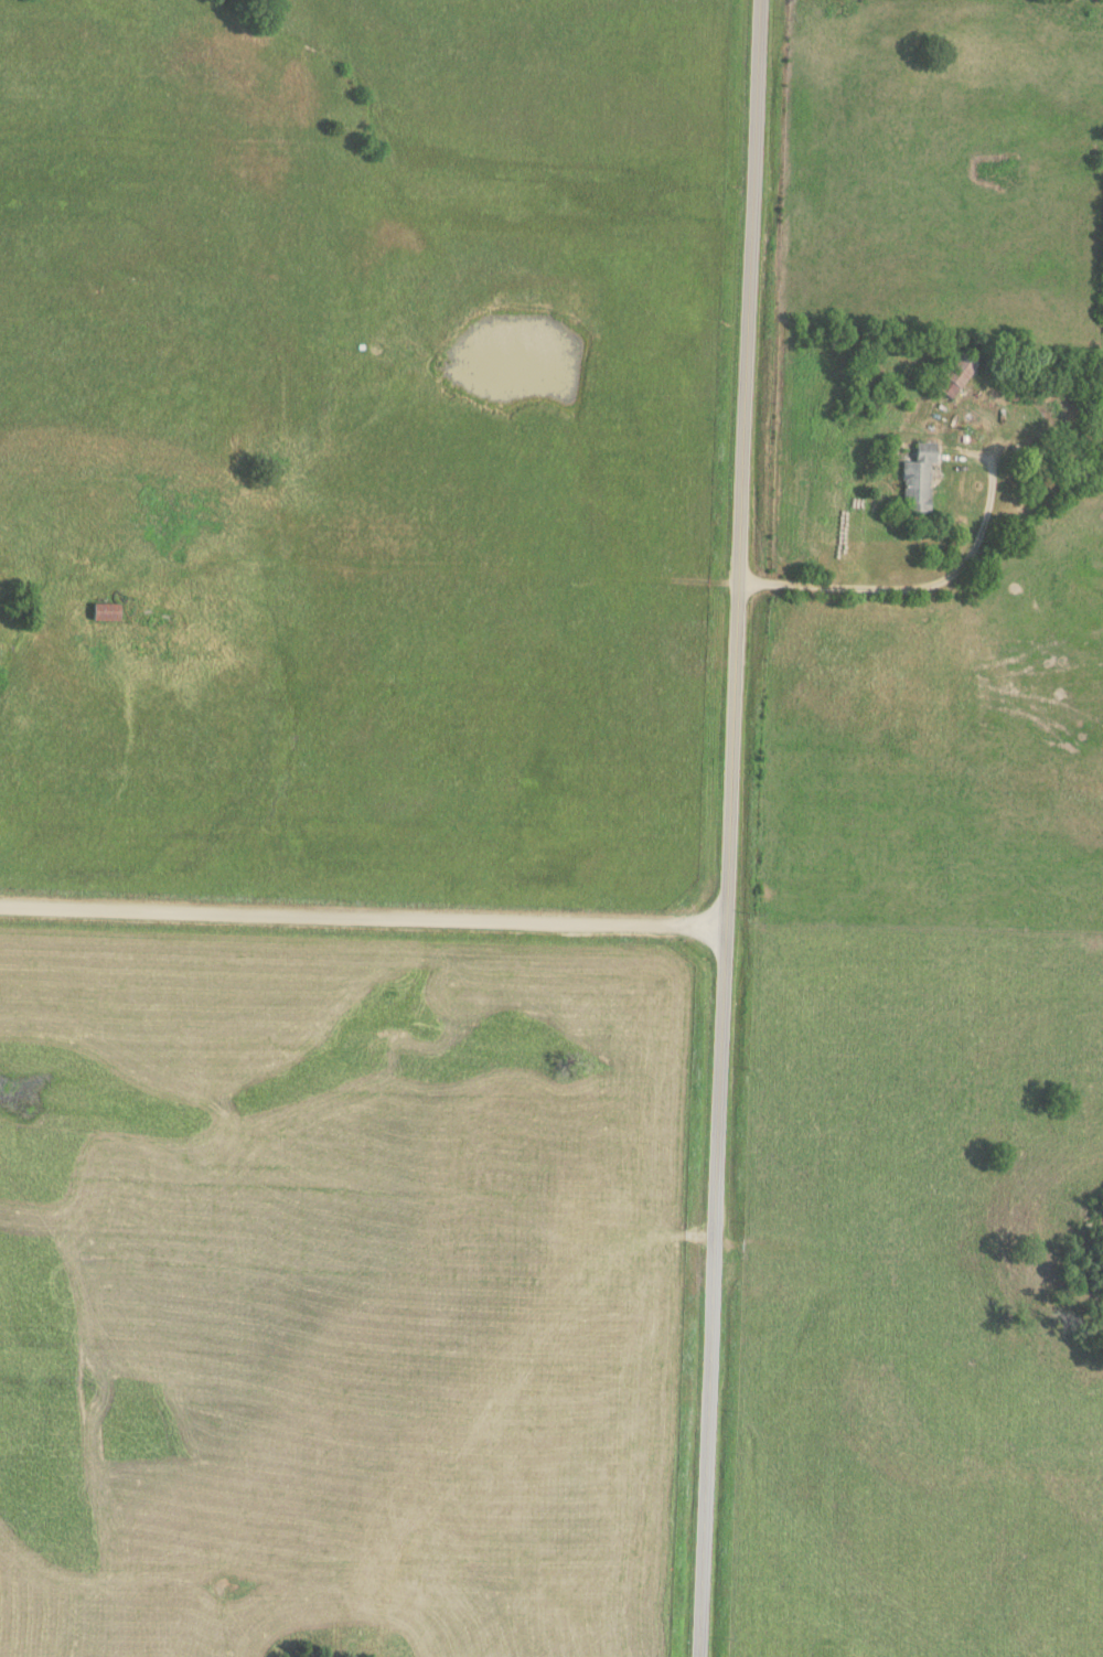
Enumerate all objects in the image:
building: (950, 374)
building: (913, 478)
building: (101, 612)
road: (730, 828)
road: (363, 917)

